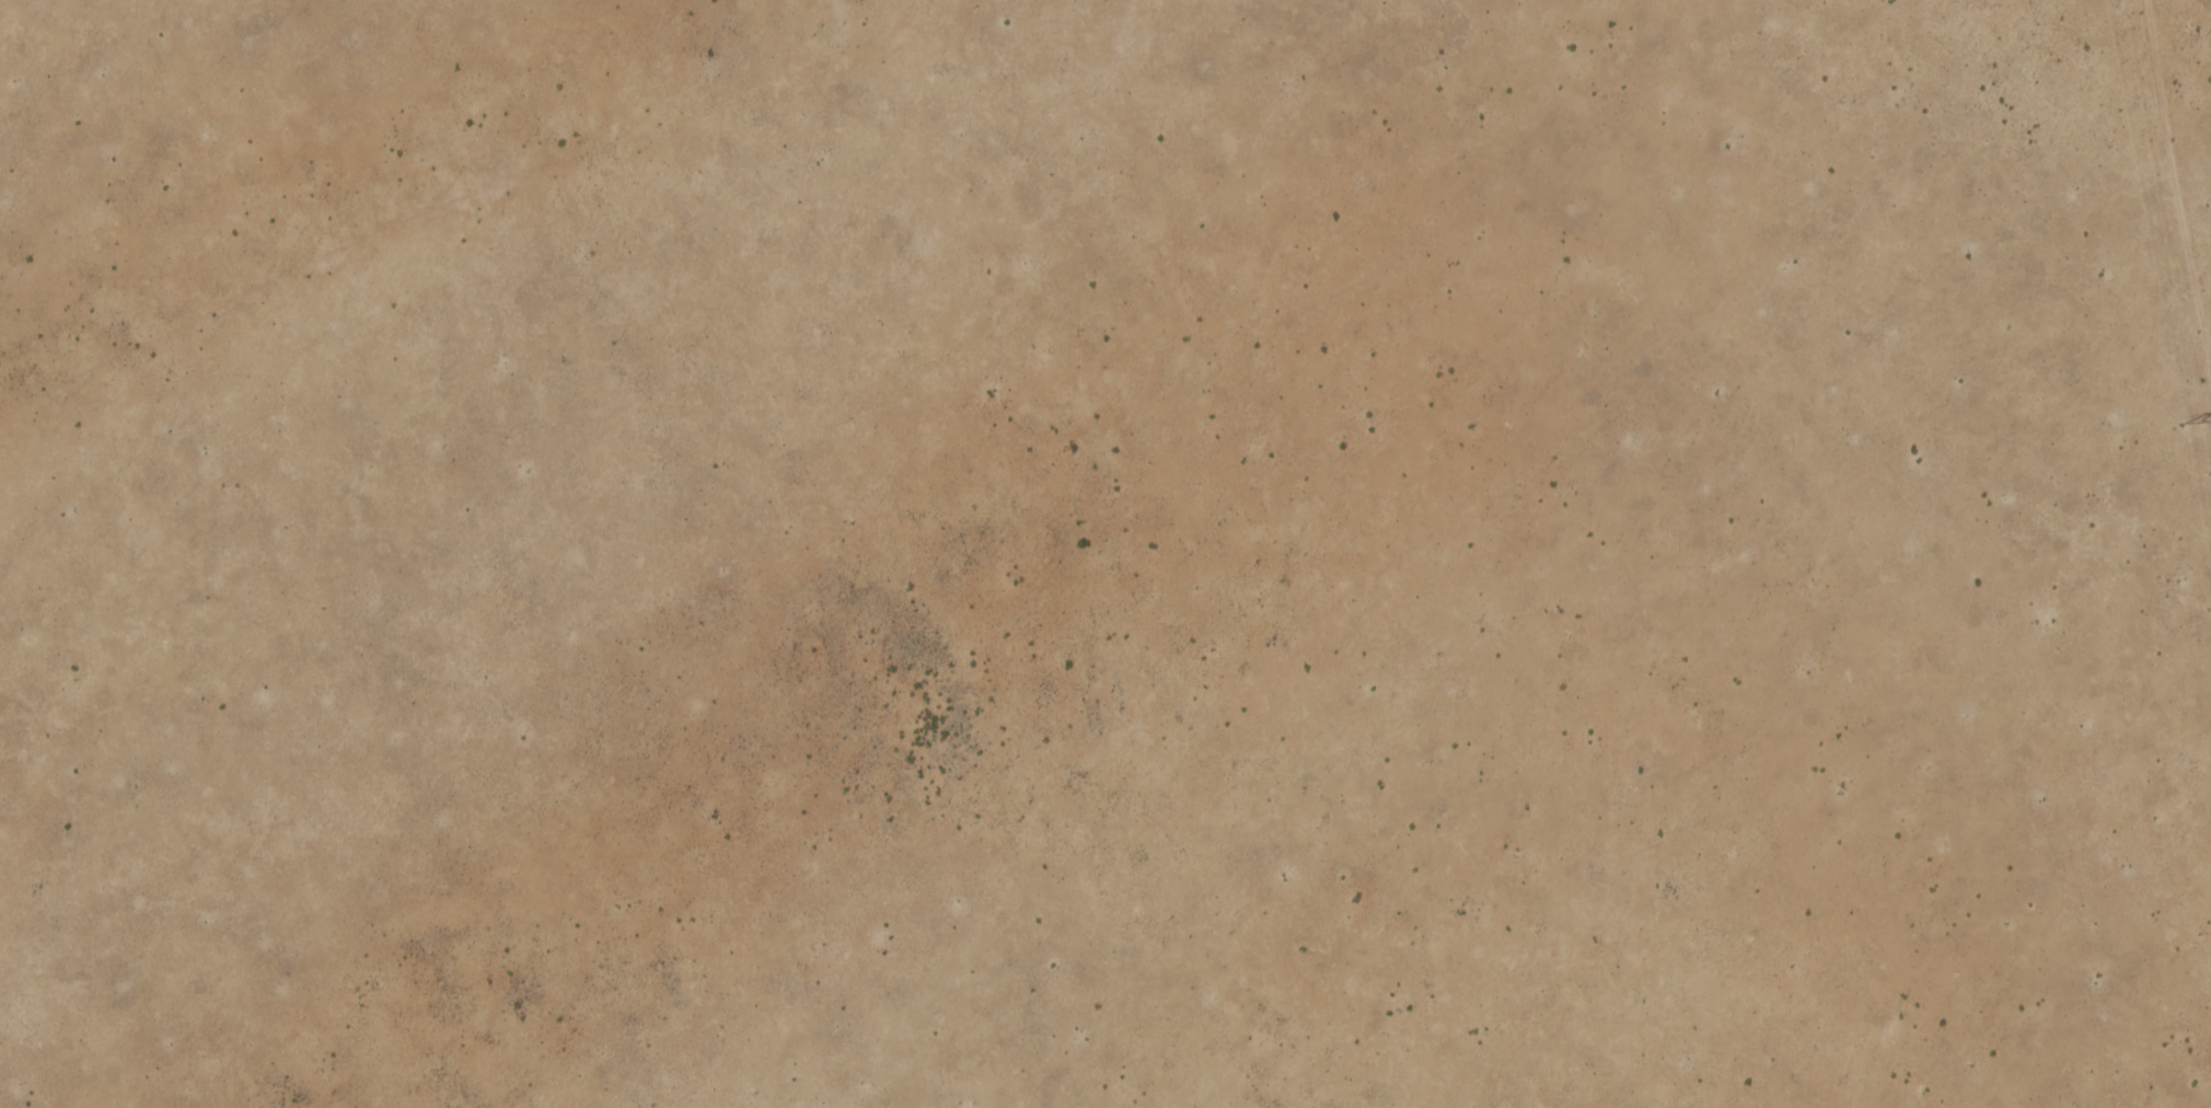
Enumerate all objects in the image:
power tower: (2195, 422)

